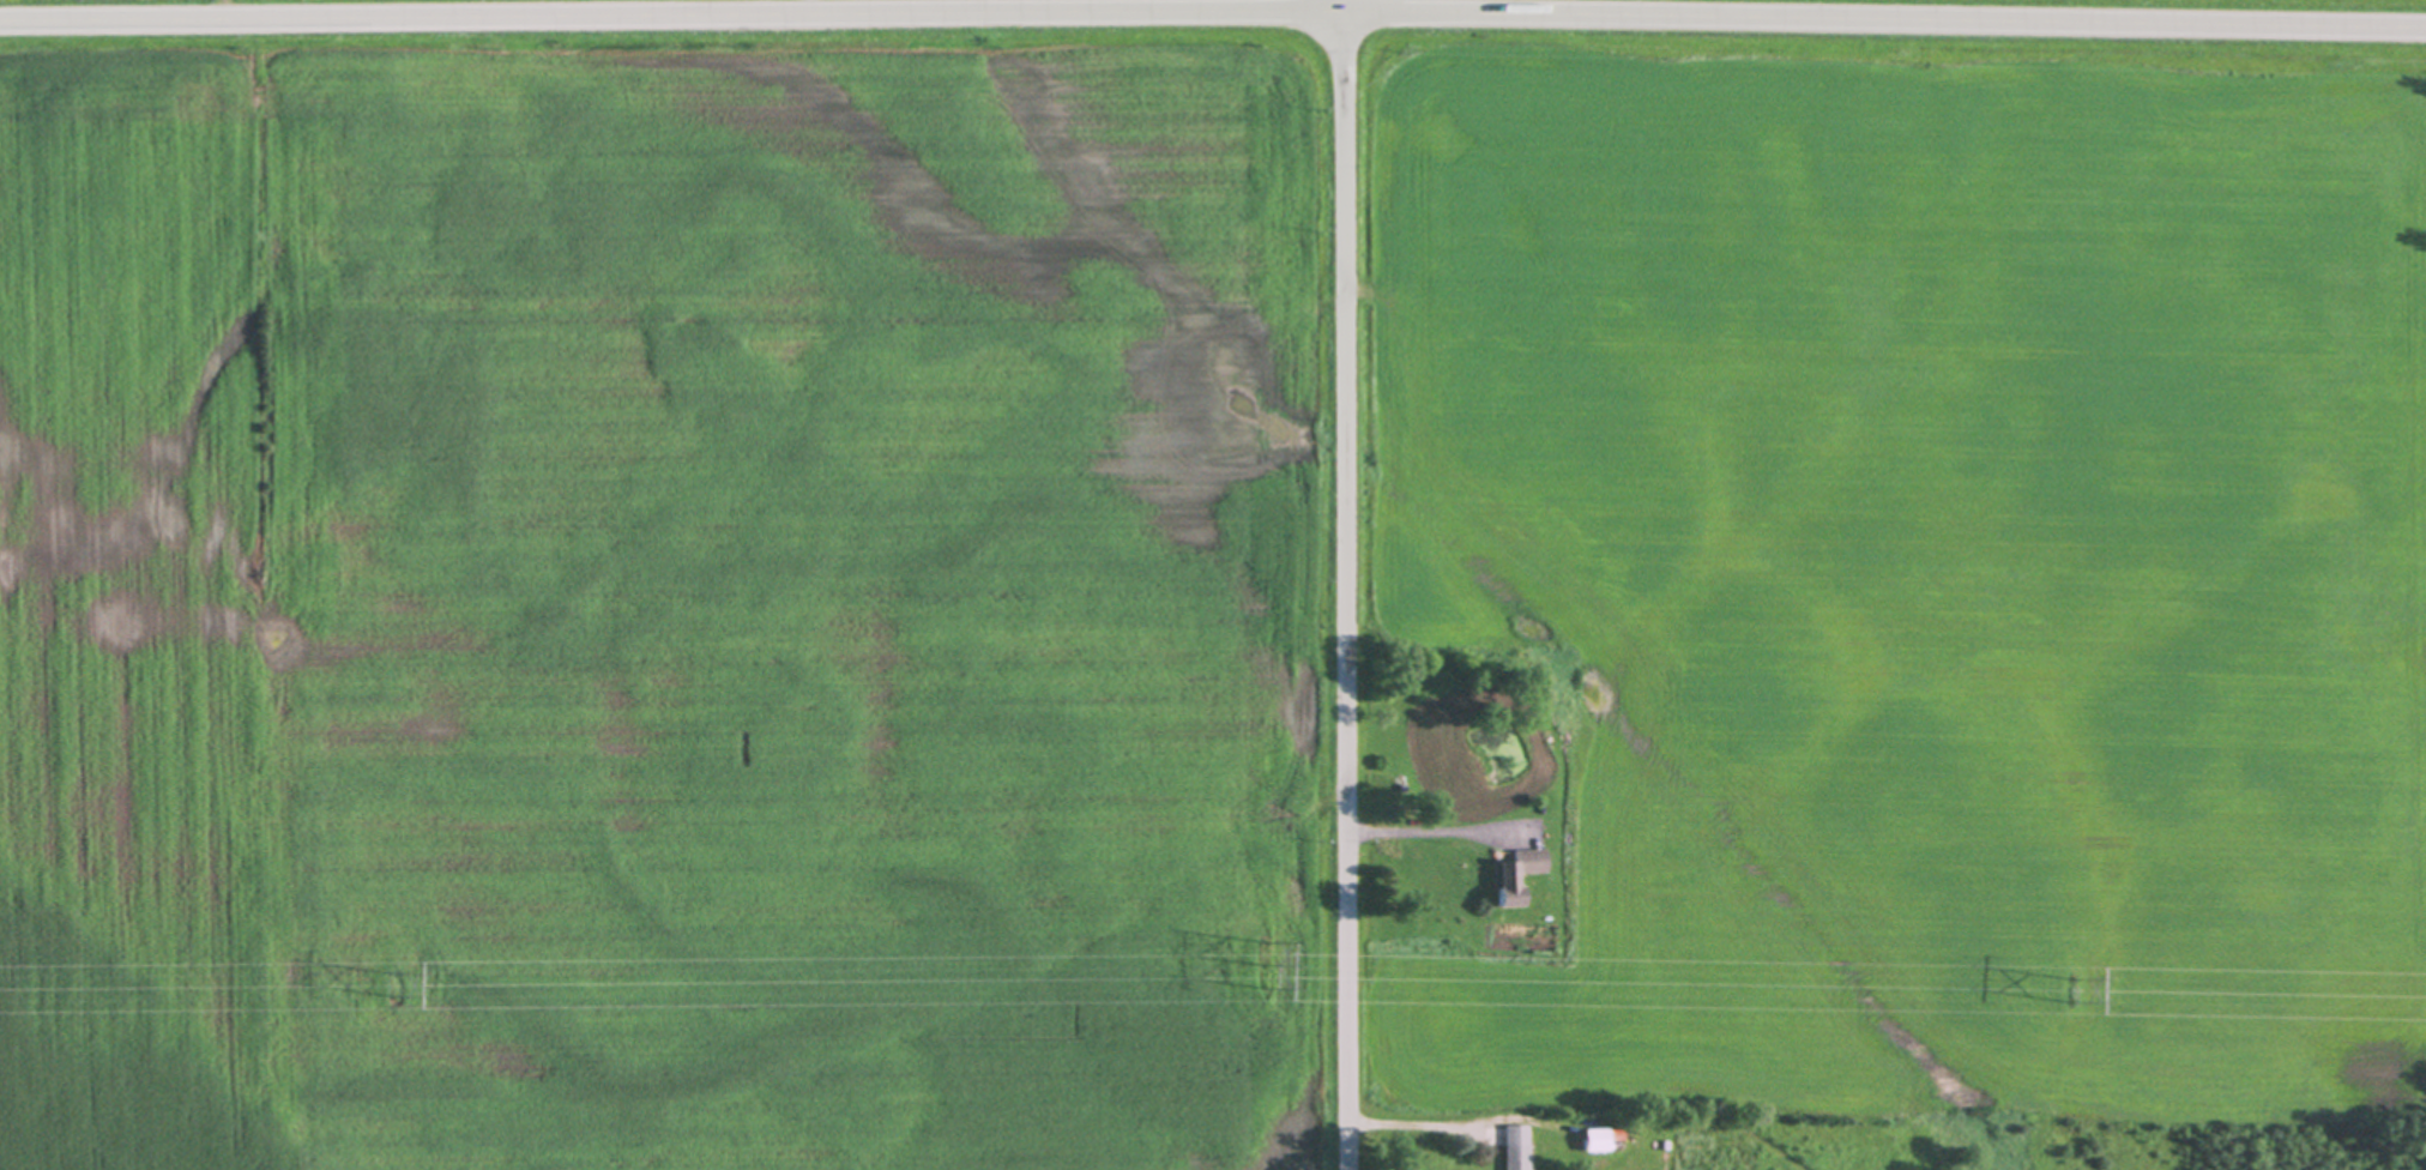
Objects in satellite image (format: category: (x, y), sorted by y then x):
road: (1213, 13)
road: (1339, 584)
building: (1380, 804)
road: (1428, 833)
building: (1513, 879)
power tower: (1262, 970)
power tower: (393, 988)
power tower: (2069, 994)
road: (1406, 1127)
building: (1591, 1142)
building: (1511, 1148)

